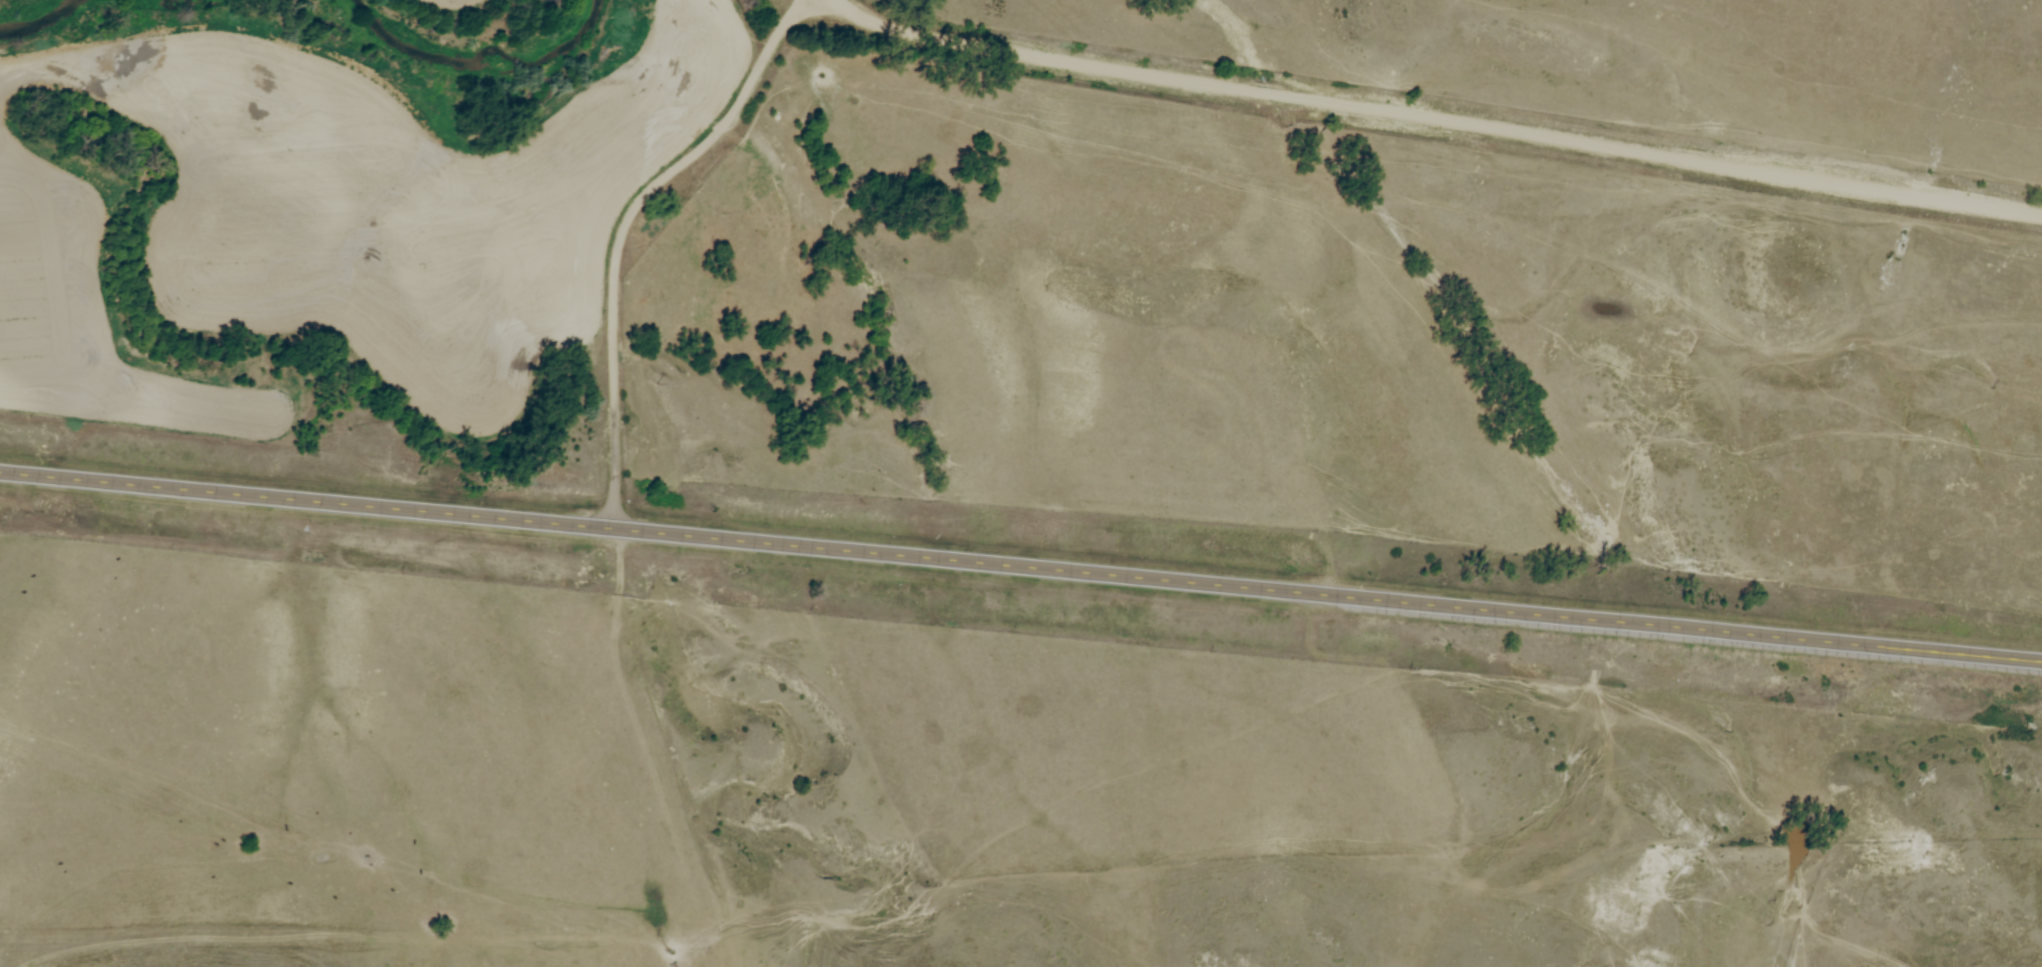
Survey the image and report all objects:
road: (1424, 118)
road: (625, 225)
road: (1021, 563)

